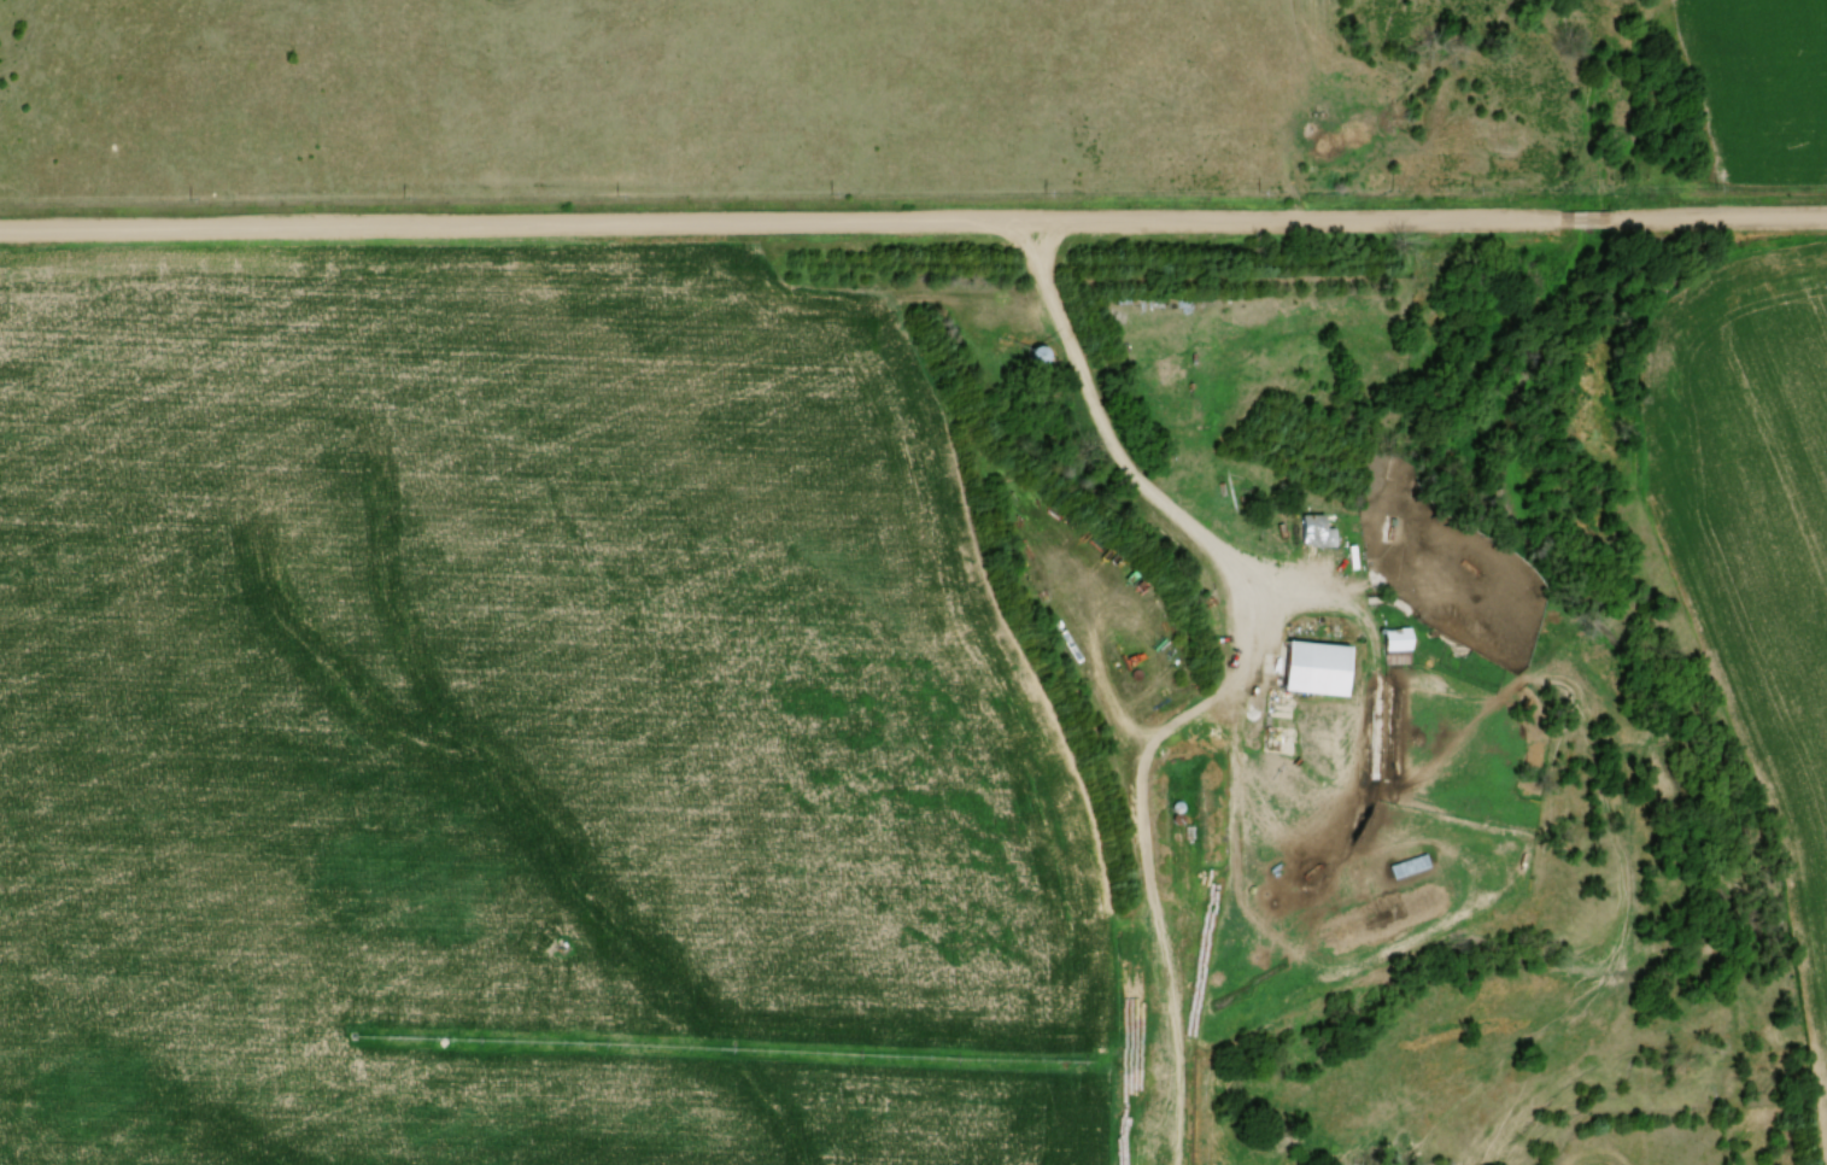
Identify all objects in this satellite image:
road: (913, 224)
building: (1038, 353)
road: (1122, 457)
building: (1312, 529)
building: (1316, 668)
building: (1325, 892)

